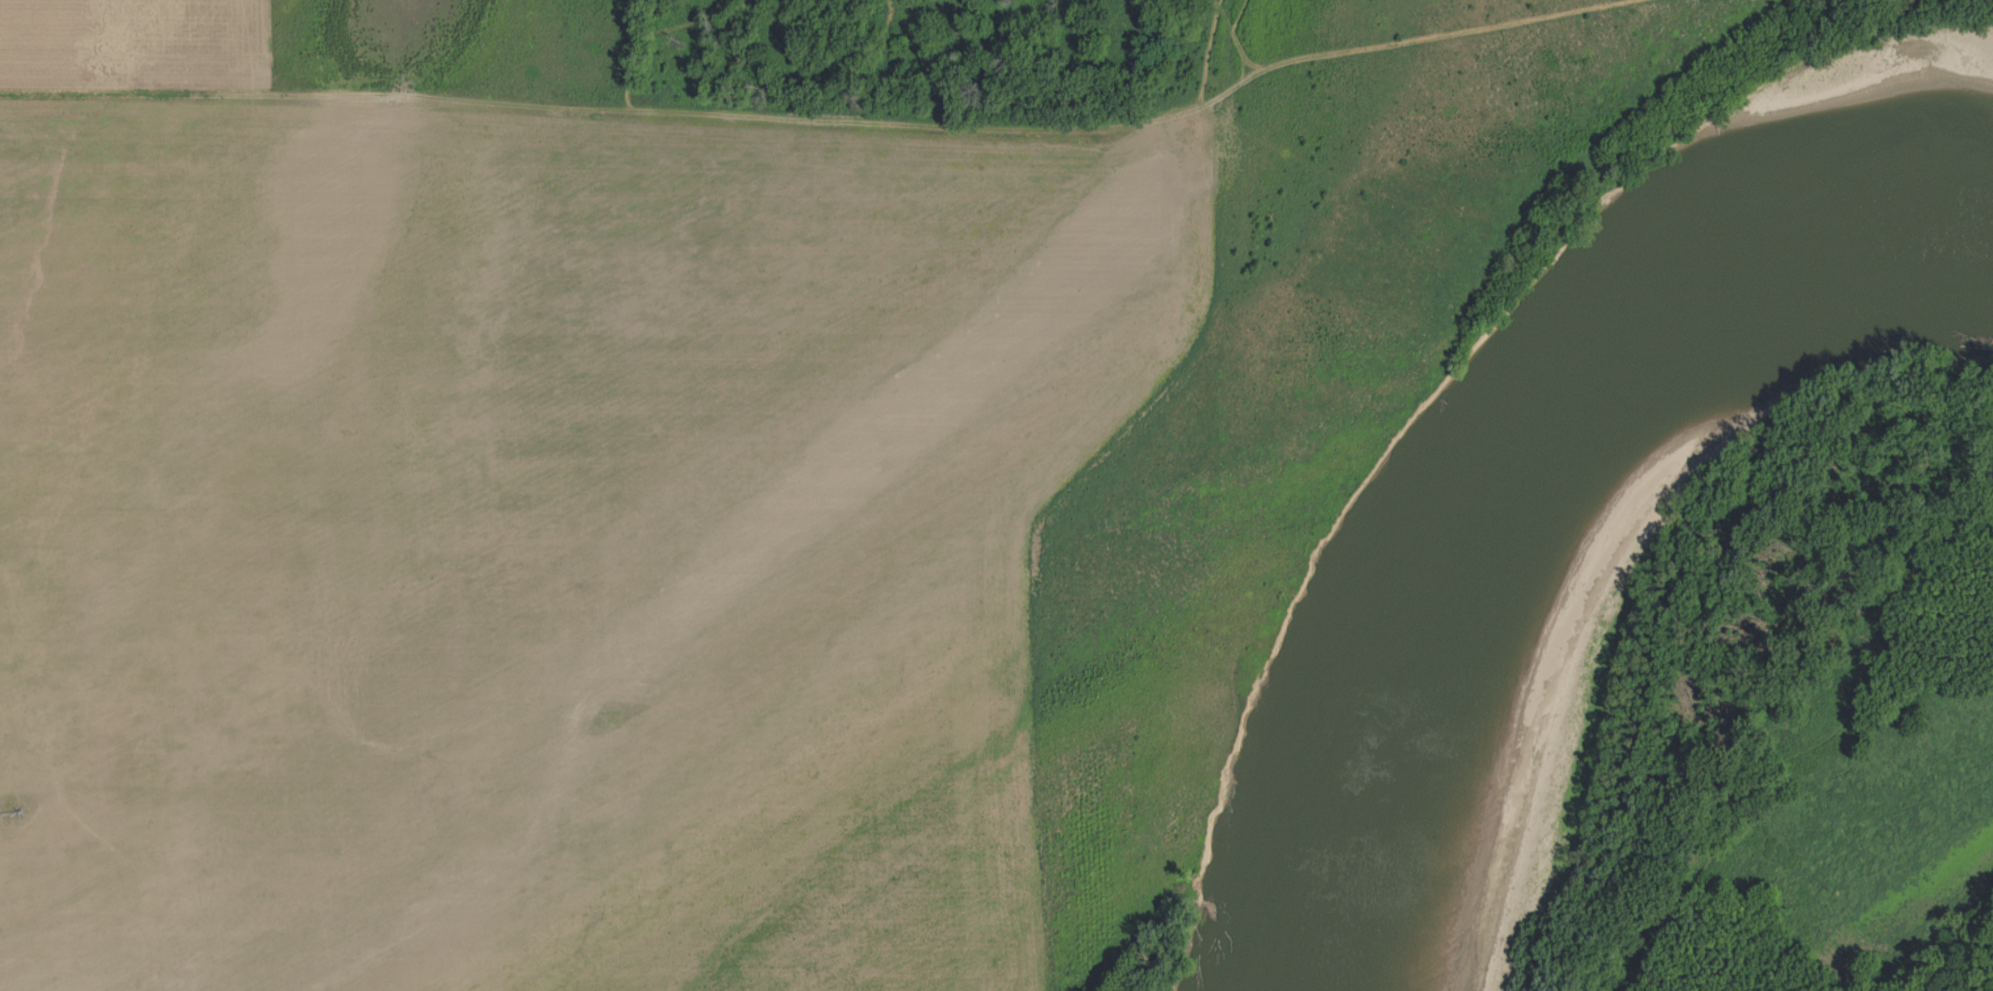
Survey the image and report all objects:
river: (1503, 432)

